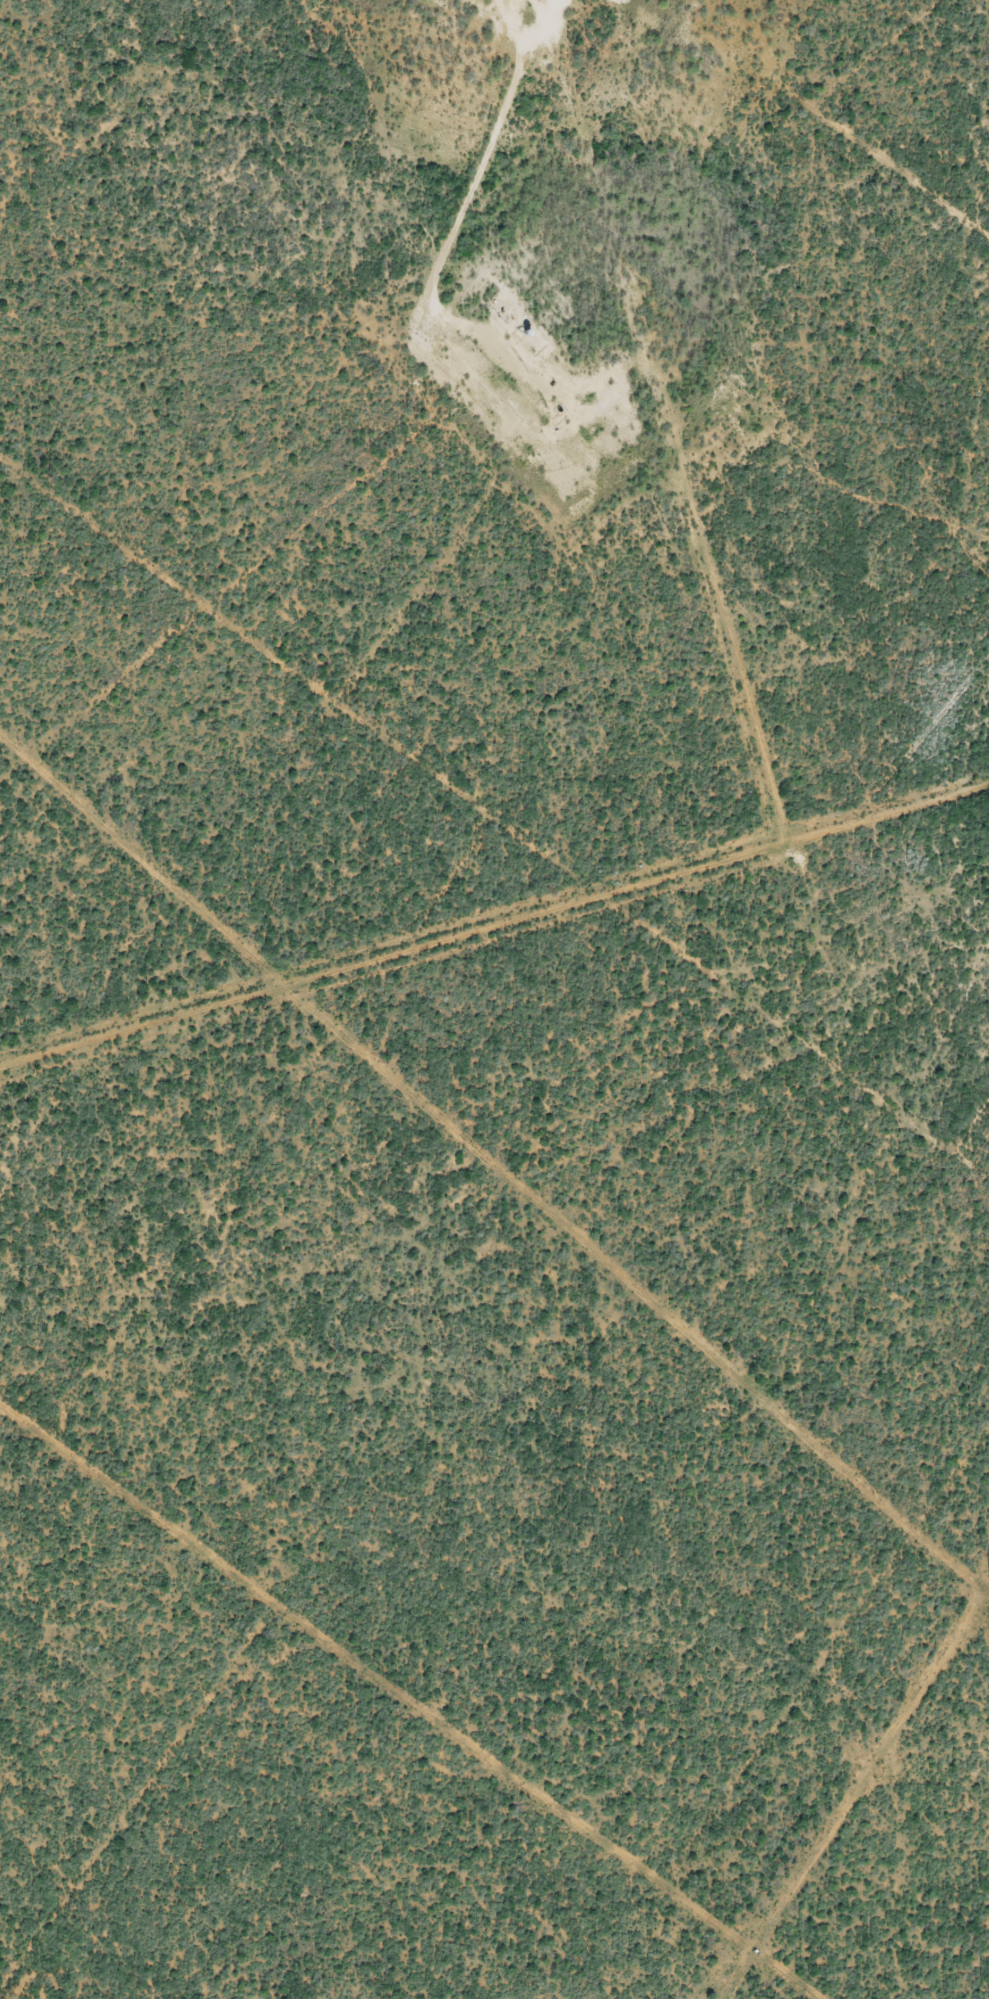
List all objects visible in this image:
road: (896, 321)

